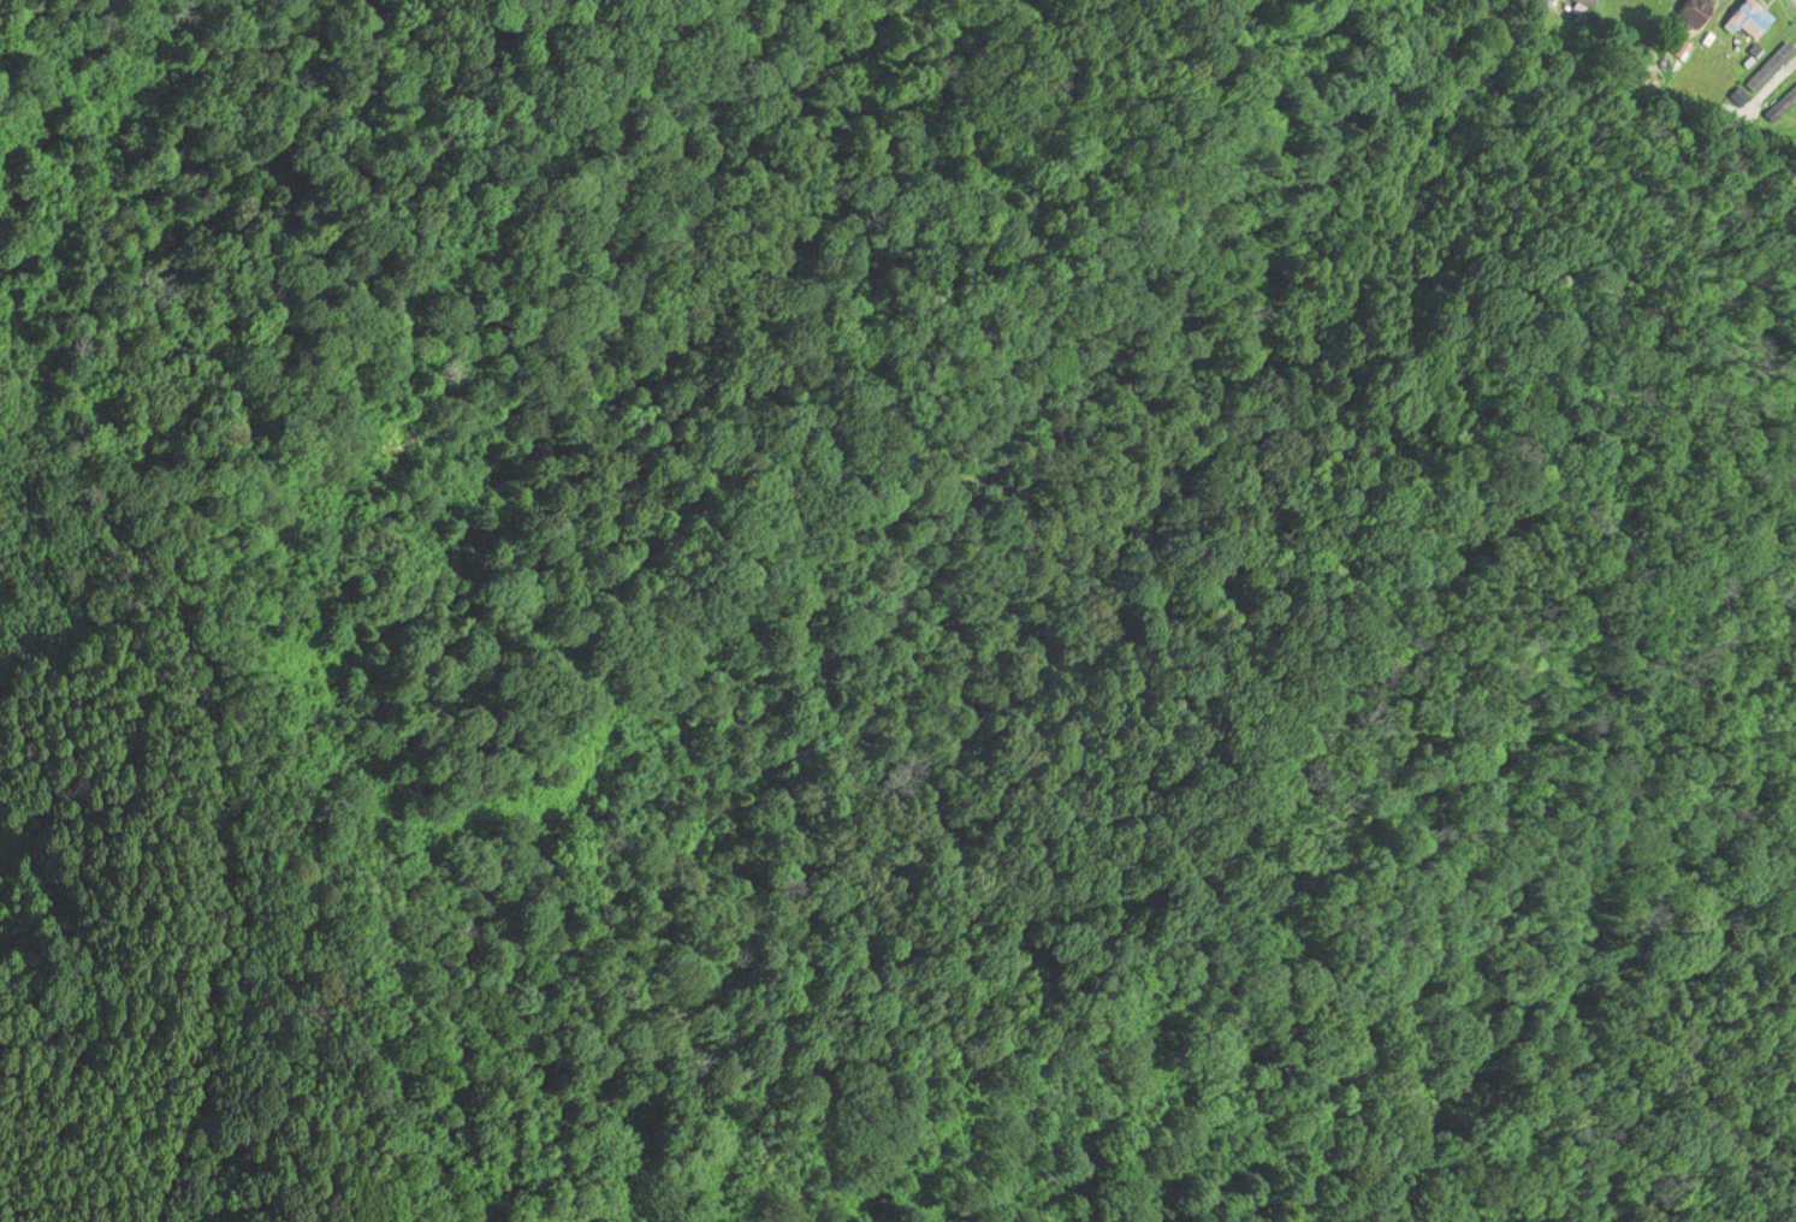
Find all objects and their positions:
building: (1688, 12)
building: (1744, 20)
building: (1758, 82)
building: (1783, 103)
building: (1788, 130)

